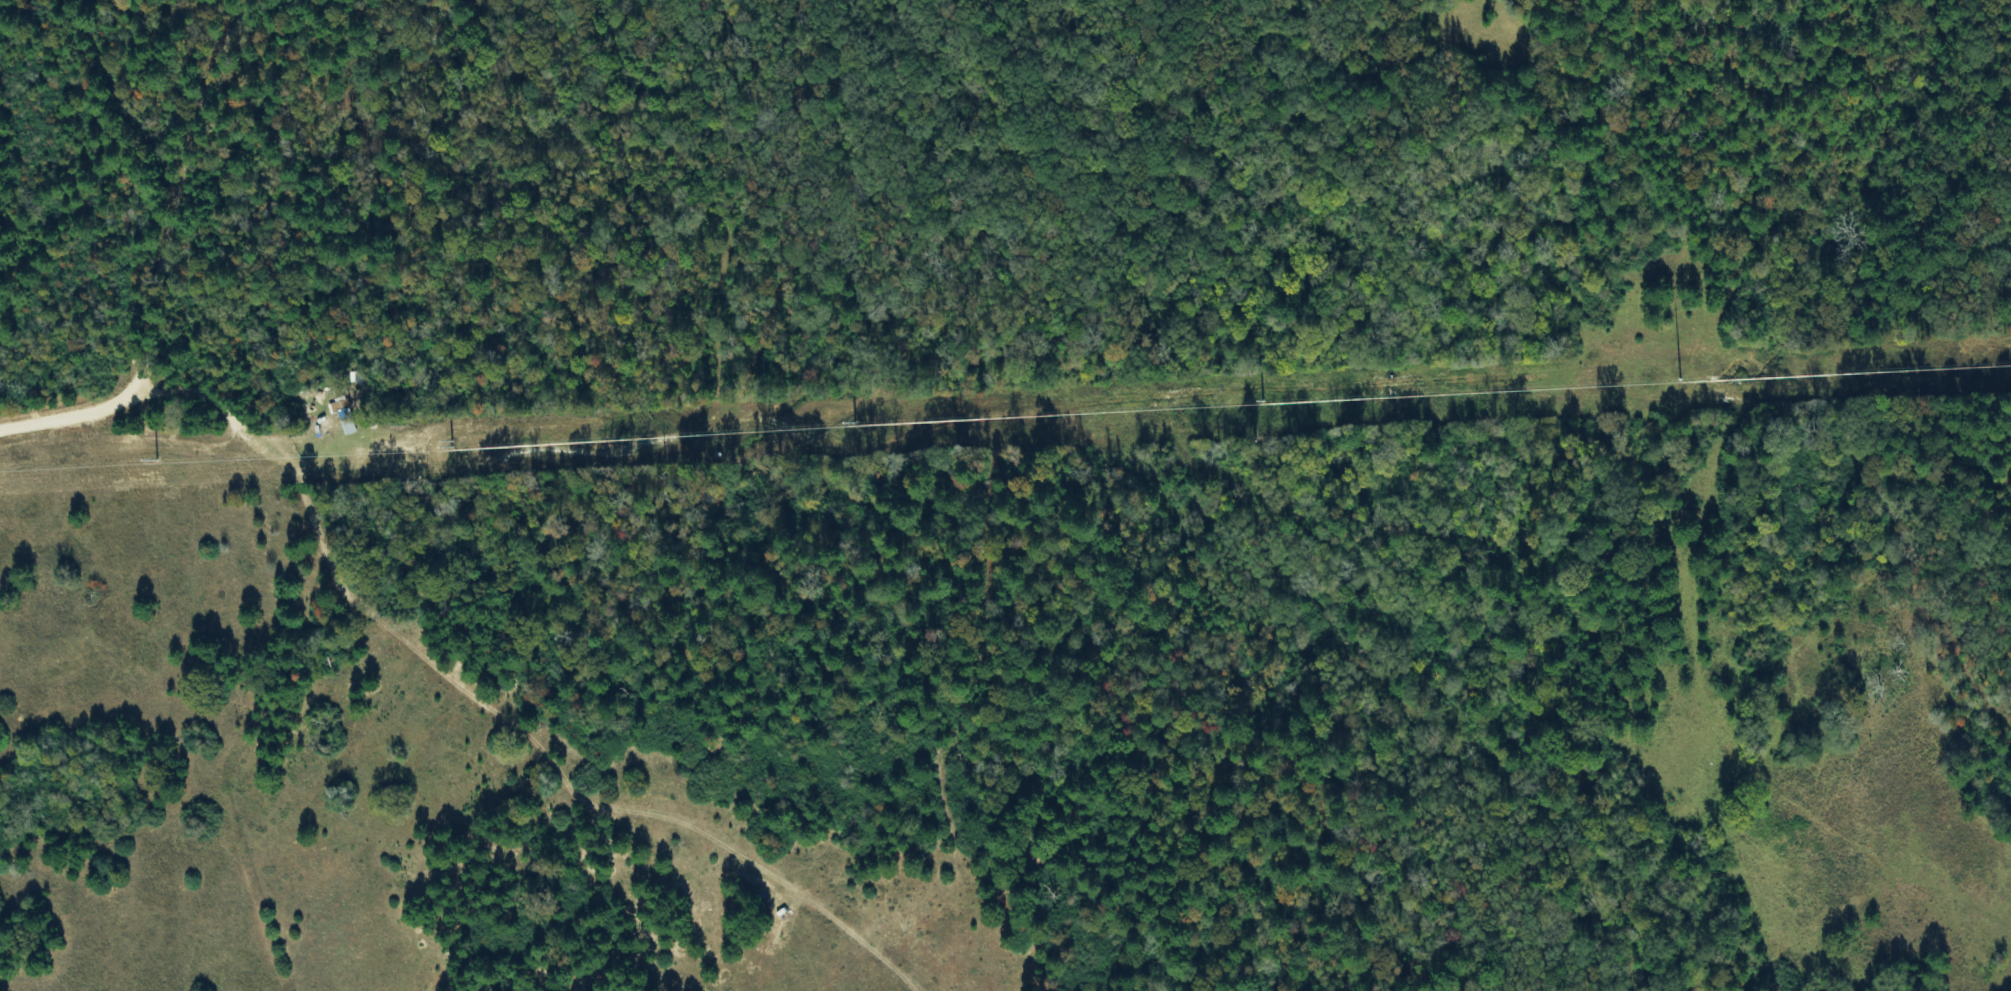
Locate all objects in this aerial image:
road: (193, 176)
power tower: (1998, 365)
road: (78, 385)
power tower: (1648, 385)
power tower: (1241, 408)
power tower: (858, 428)
power tower: (460, 449)
power tower: (162, 464)
road: (297, 466)

